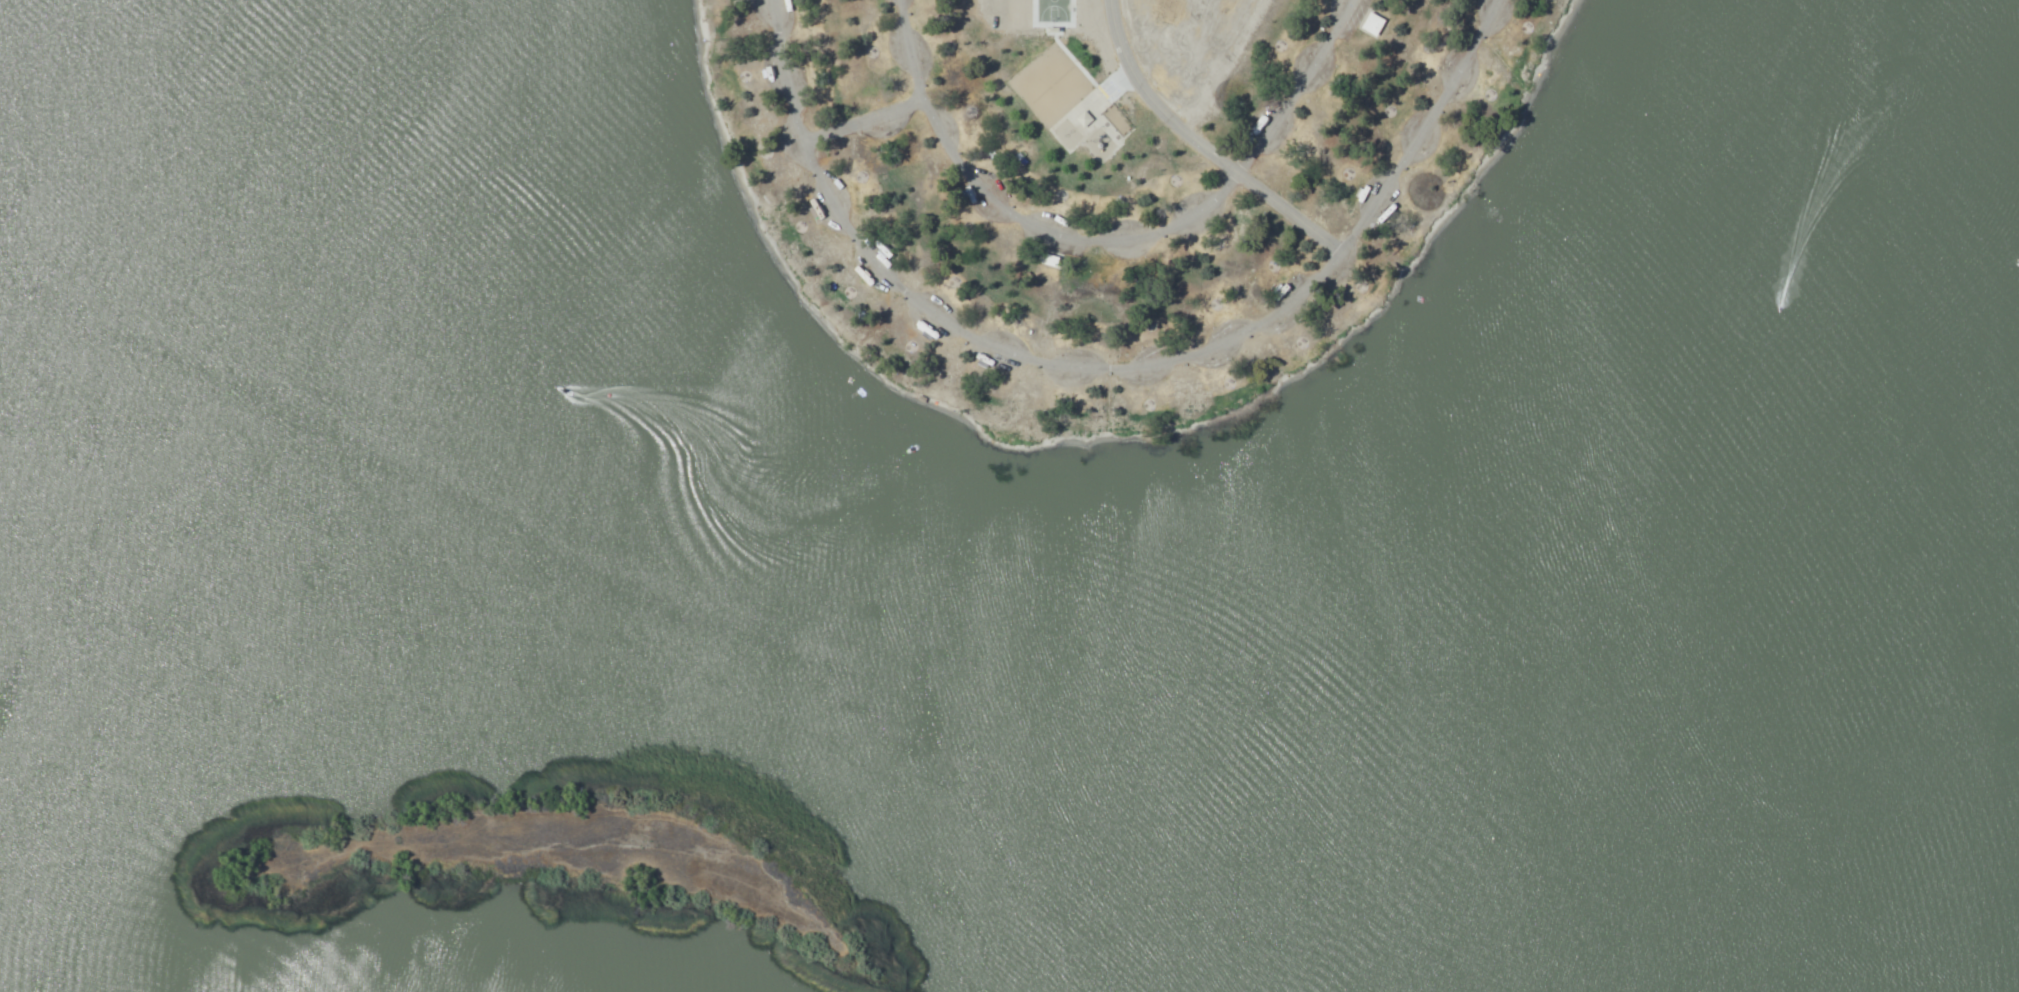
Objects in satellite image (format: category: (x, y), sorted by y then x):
building: (1372, 25)
building: (1063, 86)
road: (860, 126)
road: (1199, 148)
road: (1111, 242)
building: (1047, 260)
road: (1111, 379)

